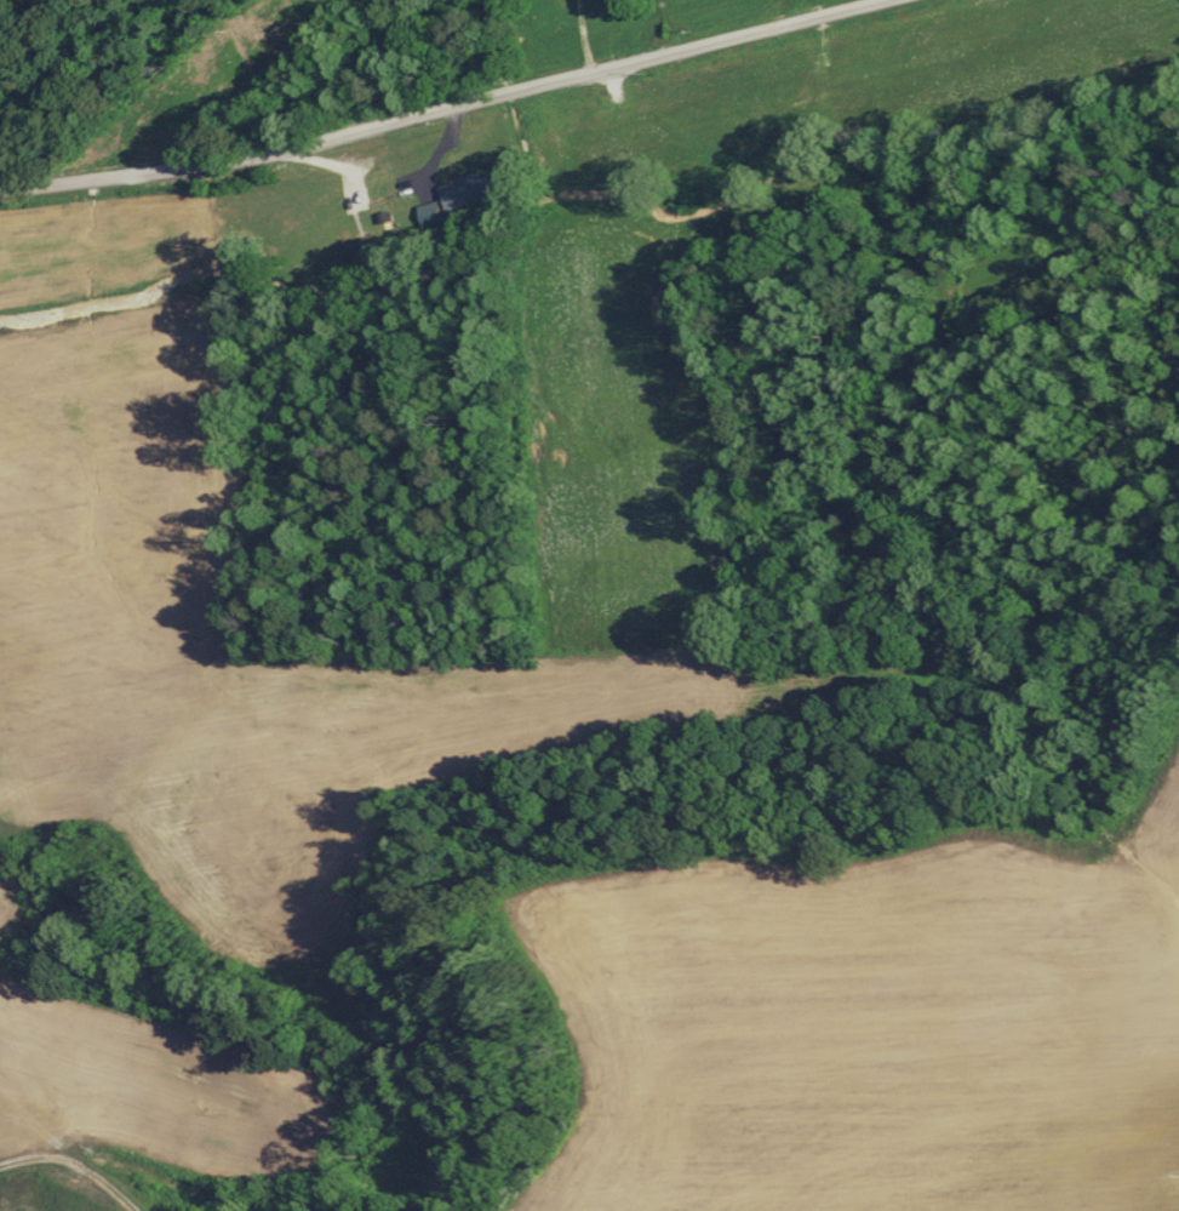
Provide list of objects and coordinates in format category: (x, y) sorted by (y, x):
building: (614, 16)
road: (436, 107)
building: (697, 159)
building: (465, 194)

